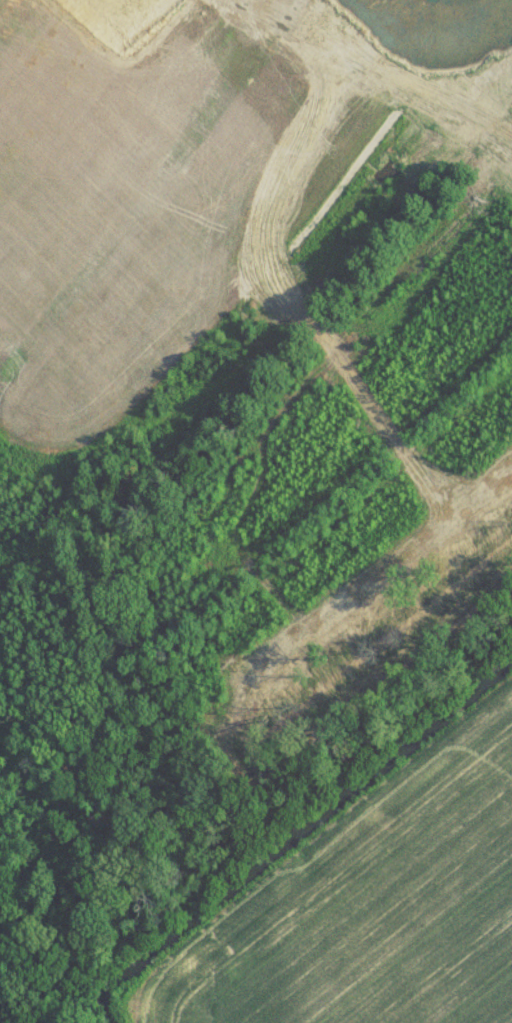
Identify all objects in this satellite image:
crop: (371, 906)

